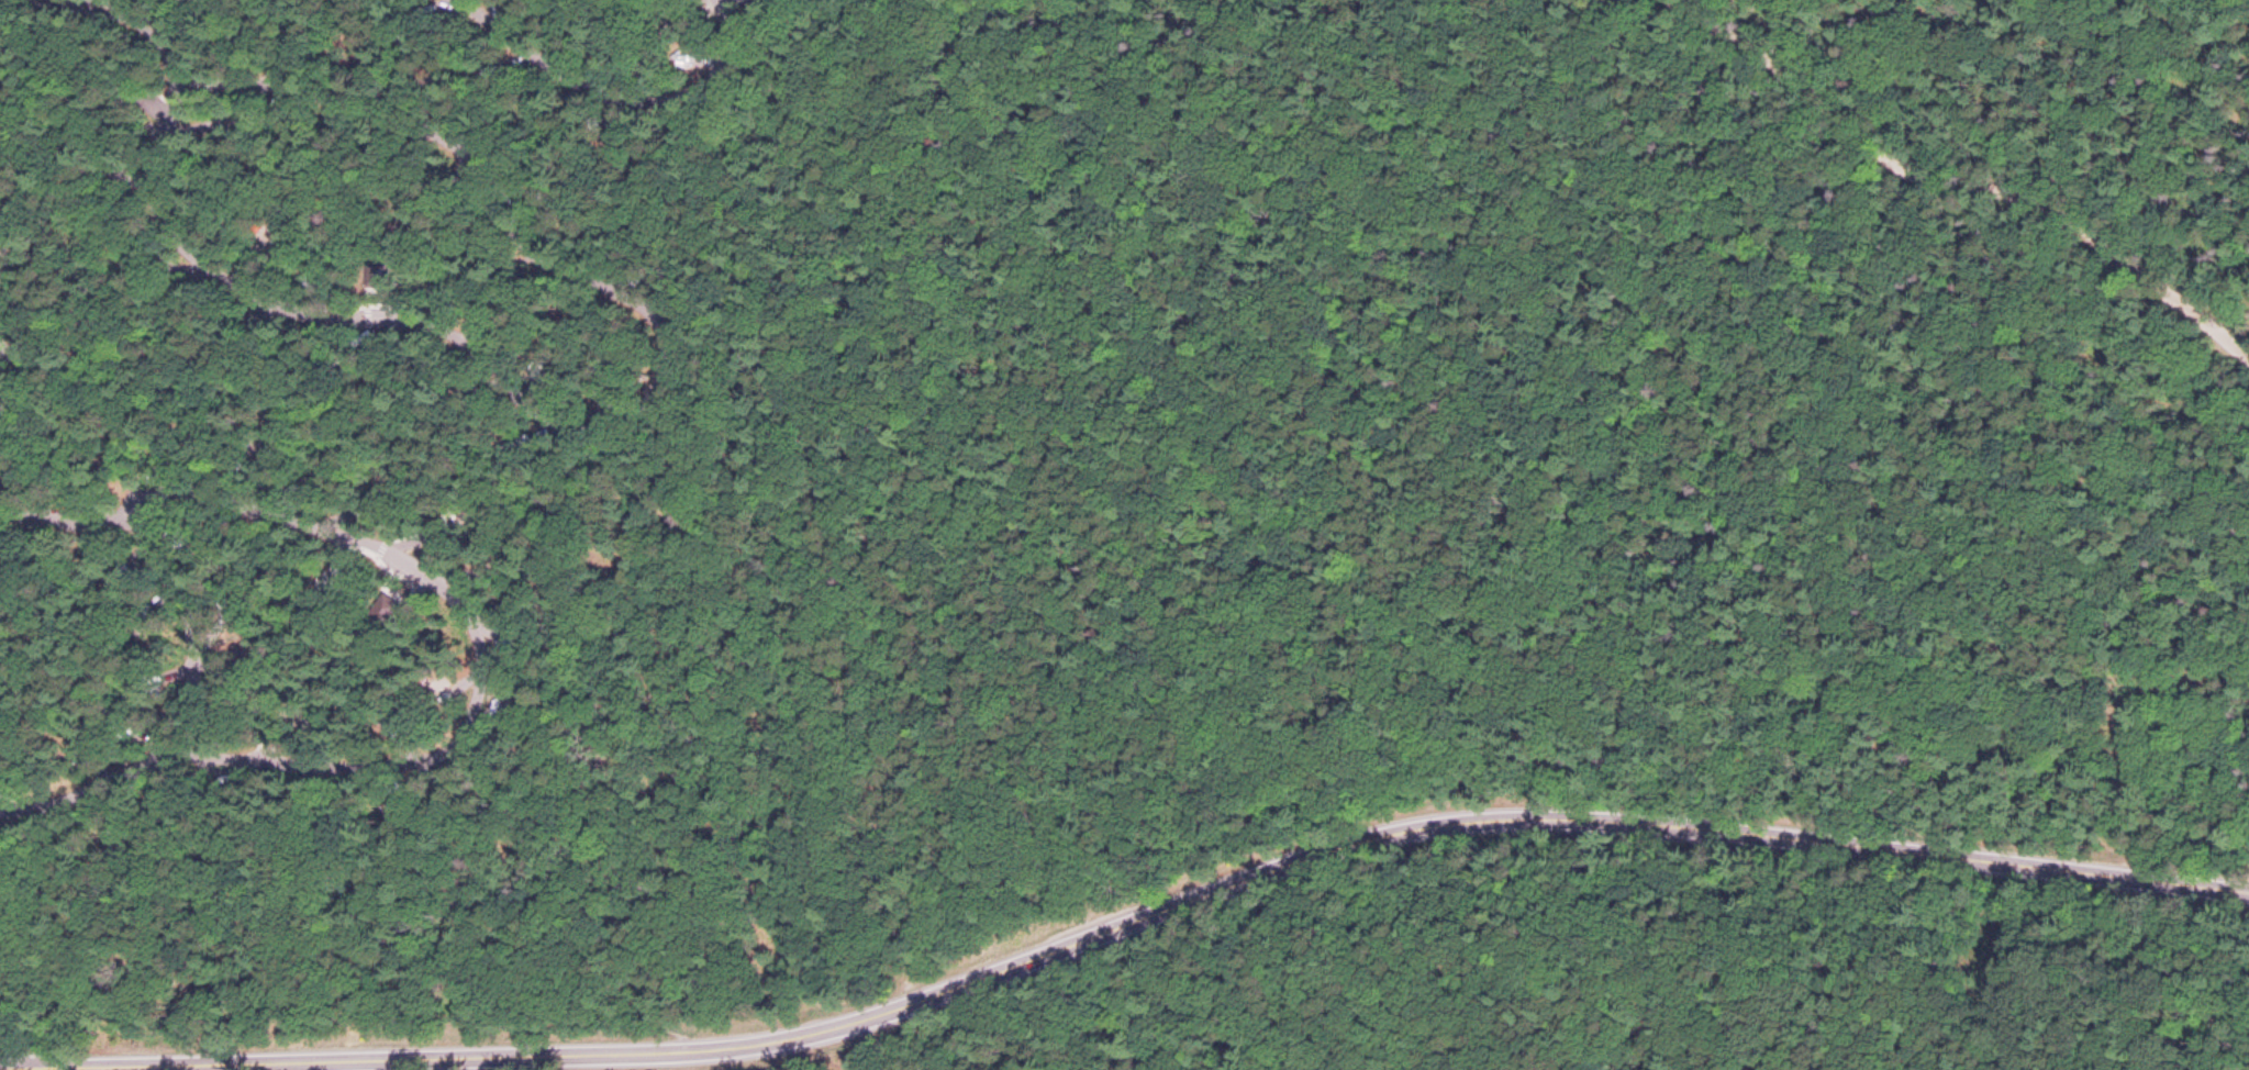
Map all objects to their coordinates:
road: (107, 13)
road: (595, 102)
road: (1958, 178)
building: (368, 269)
road: (768, 343)
road: (614, 415)
road: (1582, 444)
road: (830, 582)
road: (434, 589)
building: (377, 602)
road: (180, 632)
road: (609, 683)
road: (76, 791)
road: (788, 859)
road: (1147, 917)
road: (1113, 1003)
road: (148, 1068)

